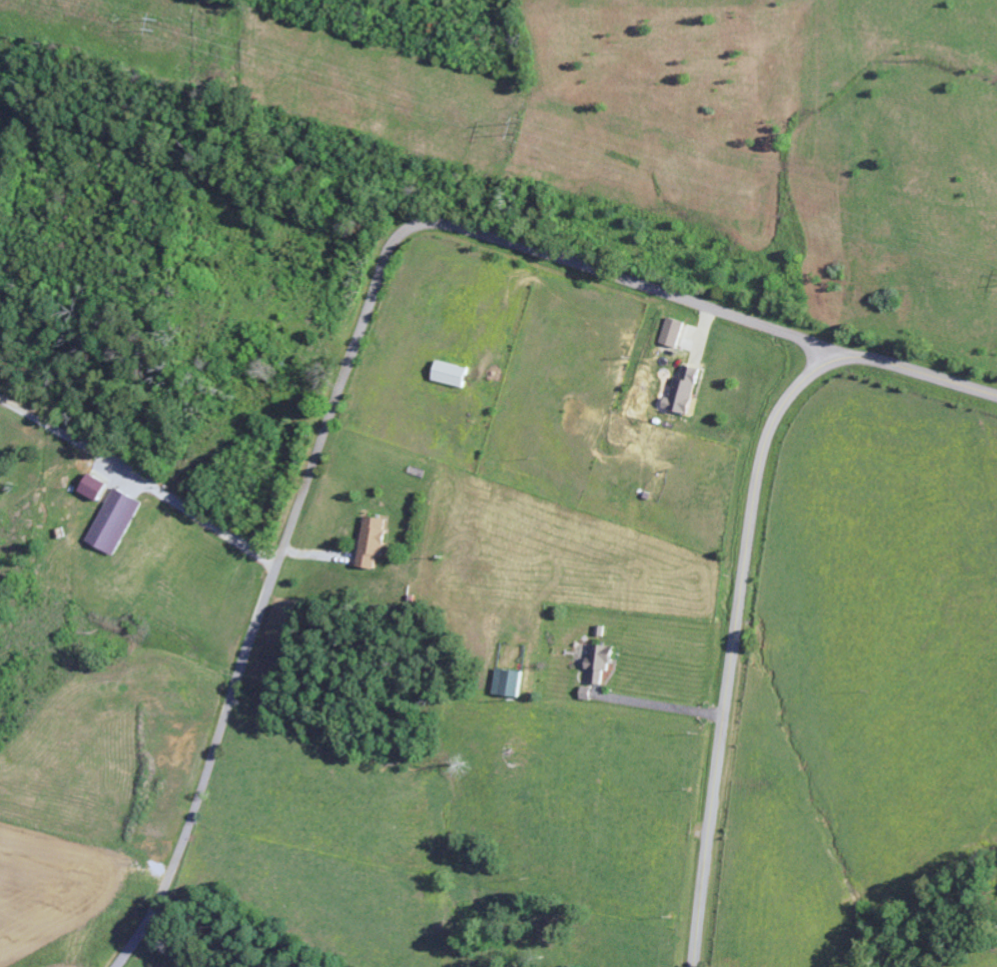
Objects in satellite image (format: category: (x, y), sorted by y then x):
power tower: (157, 26)
power tower: (538, 134)
building: (673, 333)
building: (451, 374)
road: (344, 377)
building: (684, 391)
building: (93, 488)
building: (116, 522)
building: (373, 542)
road: (742, 566)
building: (599, 662)
building: (508, 683)

